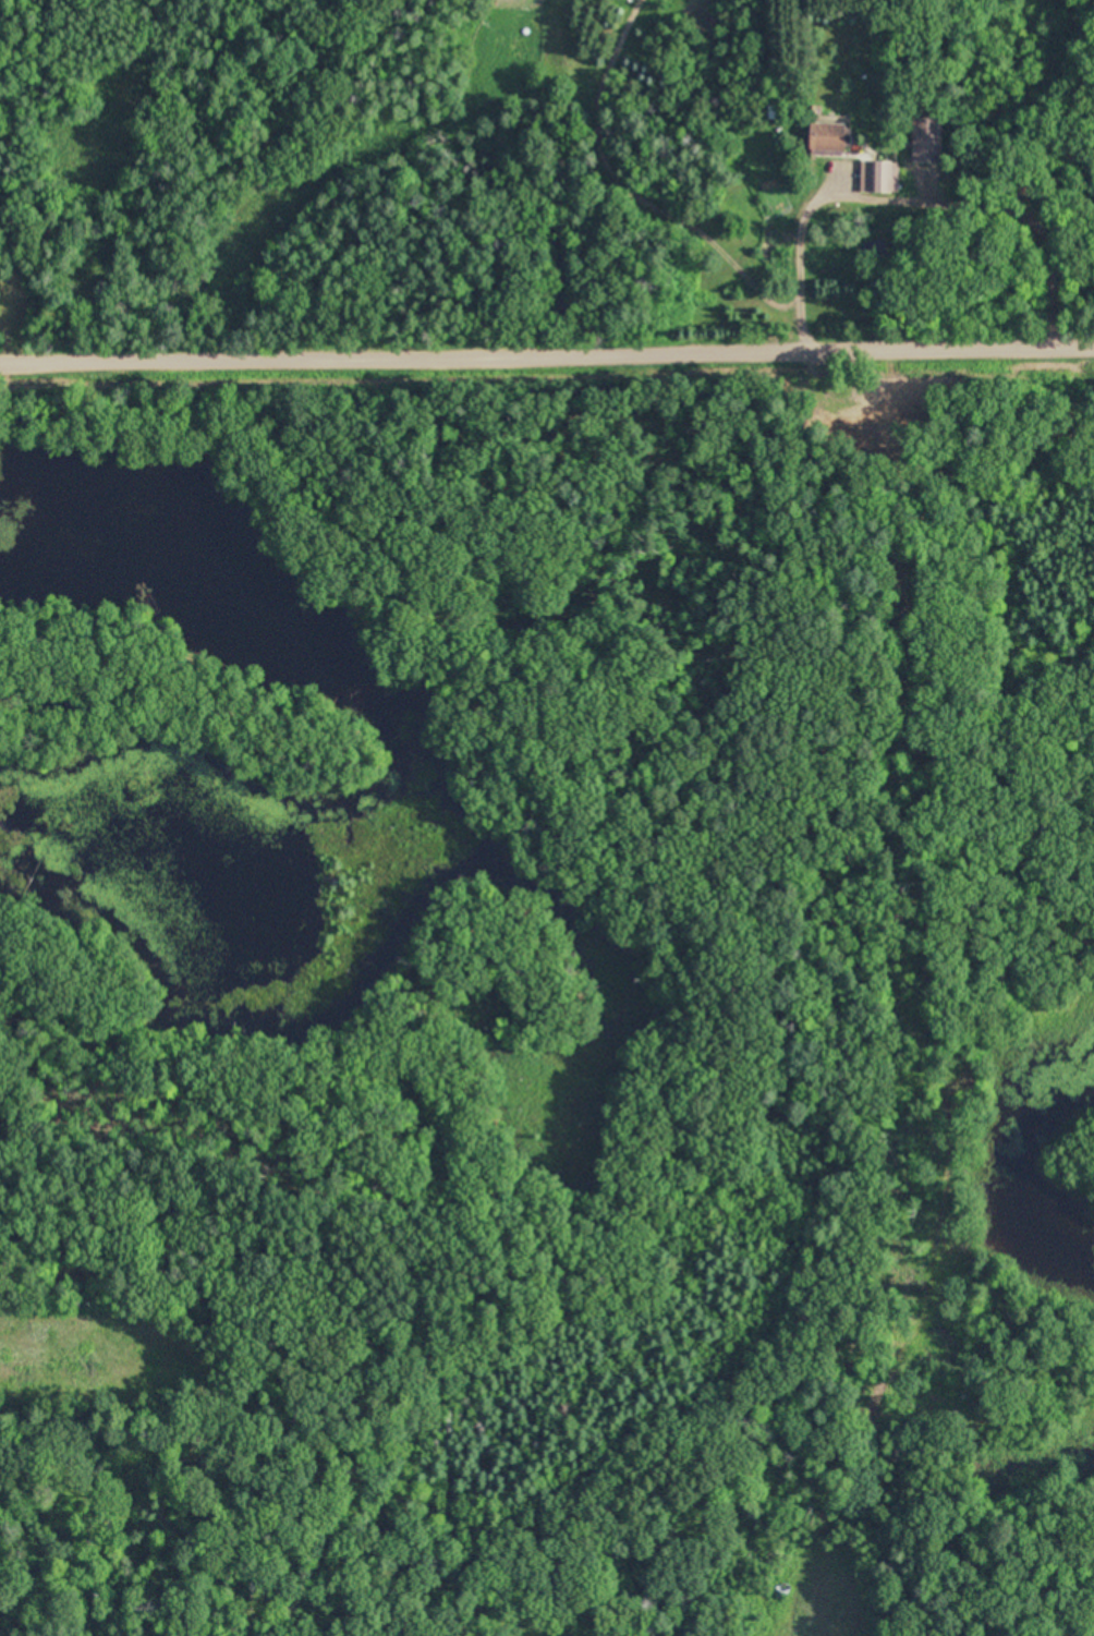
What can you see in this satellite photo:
building: (713, 19)
building: (827, 136)
building: (926, 140)
building: (878, 178)
road: (547, 364)

